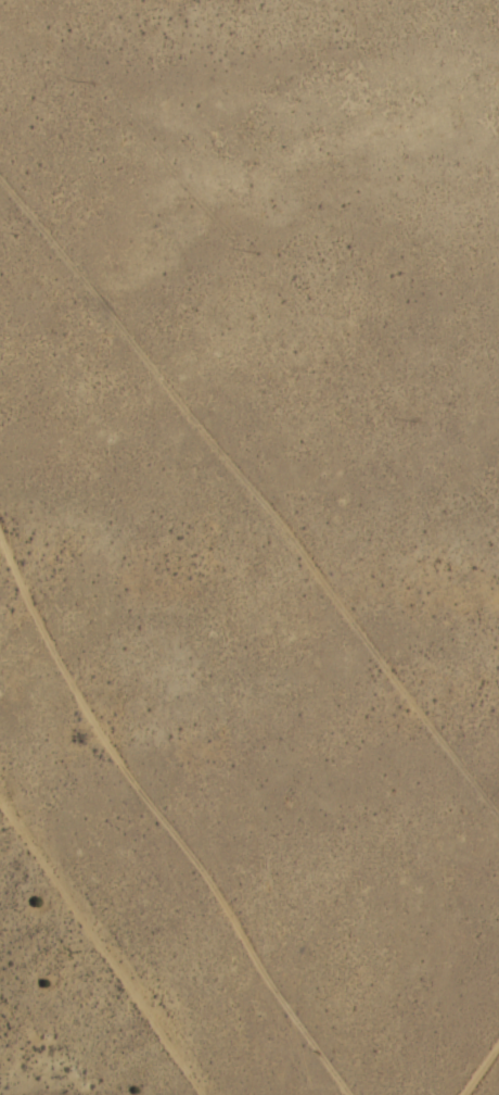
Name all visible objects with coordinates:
road: (236, 71)
road: (260, 556)

